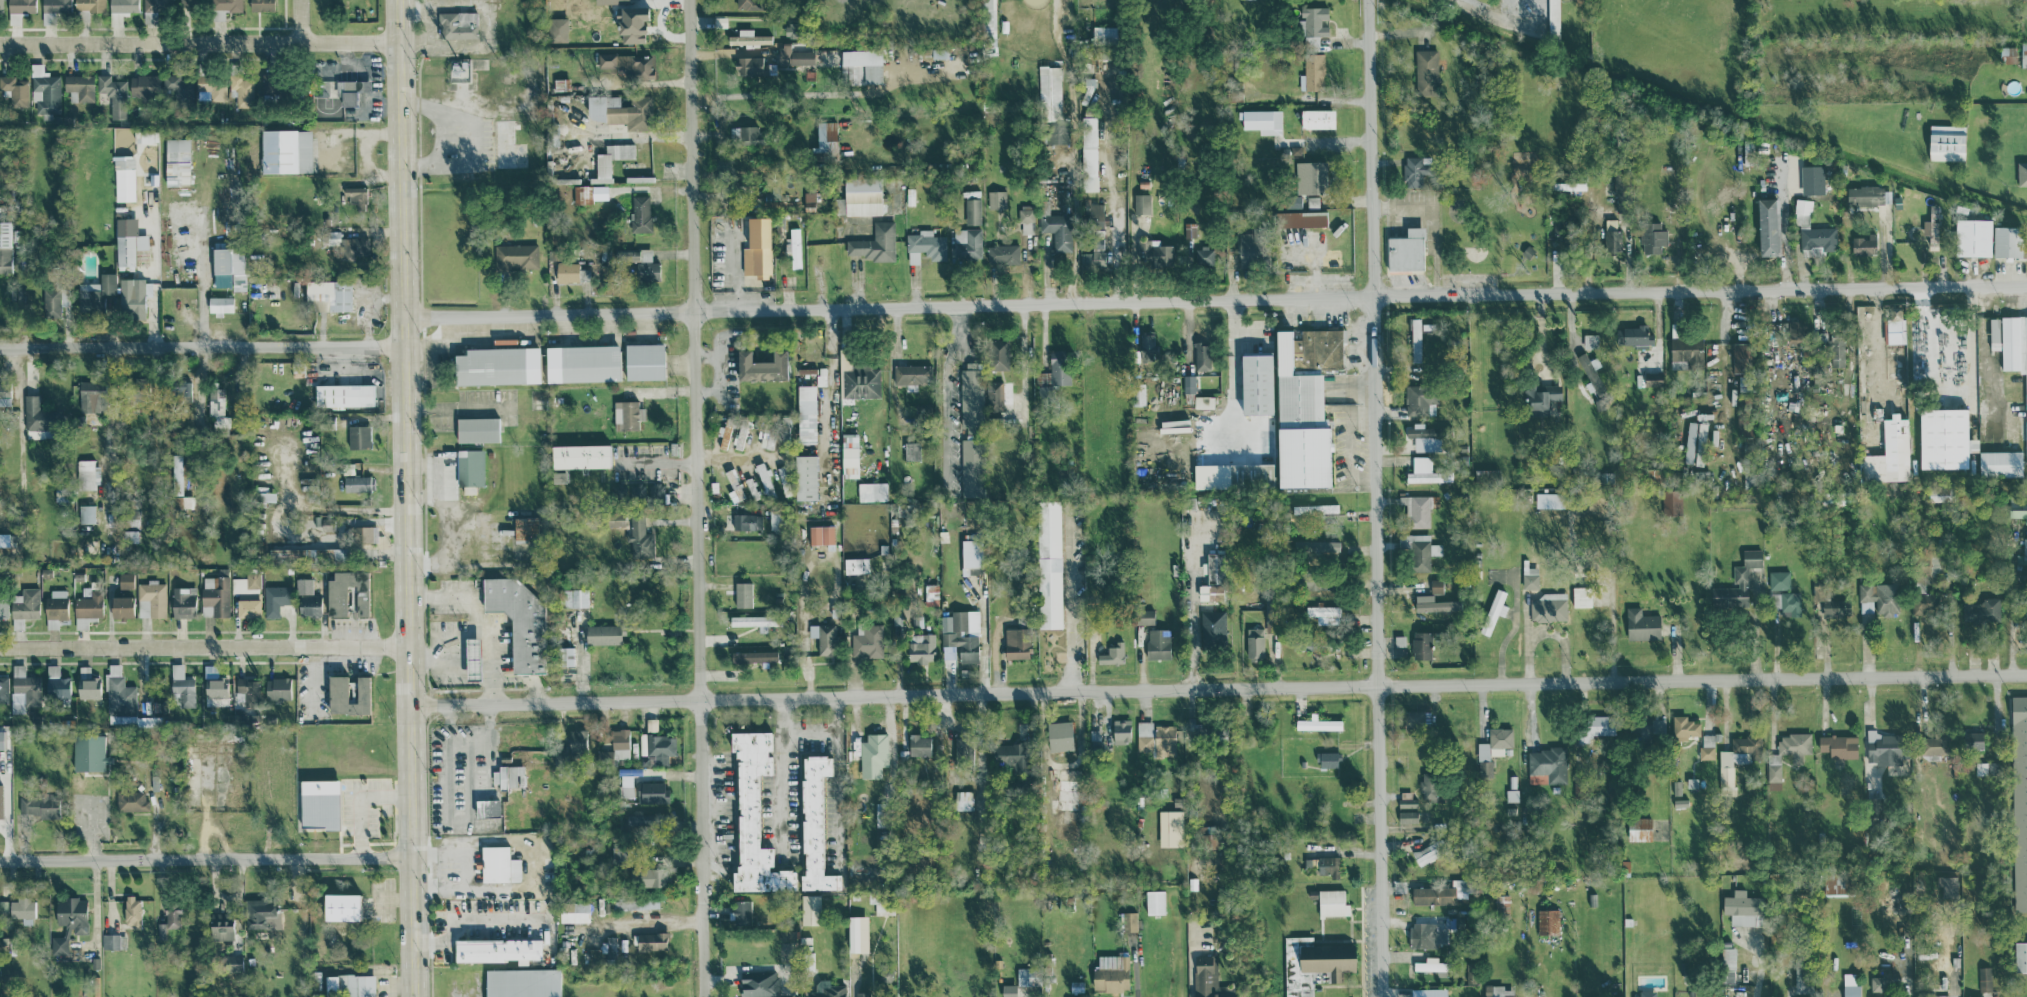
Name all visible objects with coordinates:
building: (610, 1)
road: (1529, 1)
building: (192, 3)
building: (0, 4)
building: (225, 4)
building: (746, 4)
building: (90, 5)
building: (124, 5)
building: (261, 5)
building: (54, 8)
building: (19, 9)
building: (155, 9)
building: (217, 14)
building: (988, 18)
road: (298, 20)
building: (1553, 21)
building: (631, 23)
building: (456, 24)
building: (1312, 25)
building: (557, 29)
building: (790, 29)
building: (1104, 33)
building: (748, 37)
road: (200, 41)
building: (2024, 49)
building: (793, 55)
building: (864, 62)
building: (628, 64)
building: (751, 66)
building: (1426, 71)
building: (852, 72)
building: (1312, 72)
building: (143, 85)
building: (178, 86)
building: (211, 86)
building: (79, 87)
building: (241, 89)
building: (16, 90)
building: (44, 90)
building: (350, 90)
building: (1049, 92)
road: (811, 94)
building: (113, 95)
river: (1716, 108)
building: (620, 111)
building: (1317, 118)
building: (1261, 120)
building: (1055, 132)
building: (746, 134)
building: (145, 136)
building: (825, 142)
building: (1947, 142)
building: (507, 145)
building: (285, 151)
building: (1089, 153)
building: (176, 161)
building: (603, 169)
building: (1413, 171)
building: (2022, 173)
building: (1811, 176)
building: (1311, 177)
building: (123, 178)
road: (1075, 181)
building: (1569, 185)
building: (589, 193)
road: (1115, 194)
building: (1865, 195)
building: (862, 196)
building: (355, 198)
building: (996, 199)
building: (809, 200)
building: (779, 201)
building: (1293, 201)
building: (1312, 202)
building: (1141, 203)
building: (1043, 206)
building: (639, 213)
building: (1093, 214)
building: (1026, 219)
building: (1300, 219)
building: (1932, 224)
building: (1768, 226)
building: (1057, 230)
building: (1652, 237)
building: (1818, 237)
building: (1975, 237)
building: (1611, 240)
building: (2007, 241)
building: (873, 243)
building: (966, 243)
building: (5, 245)
building: (1864, 245)
building: (349, 246)
building: (924, 246)
building: (1250, 246)
building: (793, 247)
building: (757, 248)
building: (128, 249)
building: (1406, 250)
building: (1153, 252)
building: (1002, 253)
building: (1093, 254)
building: (515, 256)
building: (1204, 256)
building: (229, 264)
building: (643, 264)
building: (566, 272)
building: (330, 293)
building: (112, 297)
building: (64, 298)
building: (50, 301)
road: (1215, 302)
road: (201, 303)
building: (220, 304)
building: (1895, 330)
building: (1795, 332)
building: (1995, 333)
building: (1633, 335)
building: (1416, 339)
building: (1590, 340)
road: (1879, 340)
road: (202, 345)
building: (1146, 348)
building: (1837, 349)
building: (2015, 349)
building: (1685, 350)
building: (1201, 353)
building: (998, 354)
building: (1741, 357)
road: (1023, 359)
building: (643, 361)
building: (582, 363)
building: (497, 366)
building: (761, 366)
building: (1059, 367)
building: (912, 374)
building: (1592, 375)
building: (1653, 378)
building: (861, 382)
building: (1188, 383)
building: (1256, 384)
road: (950, 389)
building: (179, 390)
road: (1233, 391)
road: (198, 392)
building: (344, 394)
road: (830, 394)
building: (1138, 394)
building: (970, 395)
building: (91, 396)
building: (994, 396)
building: (4, 397)
building: (1540, 397)
building: (1421, 399)
building: (1204, 402)
building: (1304, 405)
building: (217, 408)
road: (435, 408)
building: (806, 414)
building: (35, 415)
building: (625, 415)
building: (1743, 424)
building: (477, 429)
building: (725, 435)
building: (740, 435)
building: (358, 436)
building: (1424, 437)
building: (1945, 438)
building: (767, 439)
building: (1696, 439)
building: (911, 451)
building: (1890, 452)
building: (849, 455)
building: (580, 456)
road: (736, 456)
road: (656, 462)
building: (2000, 463)
building: (470, 467)
building: (971, 467)
building: (1426, 471)
building: (86, 474)
building: (732, 476)
building: (763, 476)
building: (1251, 476)
building: (558, 477)
building: (805, 477)
building: (356, 483)
building: (178, 484)
building: (869, 491)
building: (647, 492)
road: (406, 498)
road: (696, 498)
road: (1375, 498)
building: (1548, 500)
building: (1672, 502)
building: (2018, 506)
building: (1315, 509)
building: (1416, 510)
building: (85, 513)
building: (128, 518)
building: (614, 519)
building: (746, 521)
building: (525, 527)
building: (362, 534)
building: (821, 534)
building: (130, 536)
building: (639, 539)
building: (1317, 546)
building: (1419, 550)
building: (2025, 550)
building: (305, 554)
building: (970, 557)
building: (1049, 564)
building: (856, 565)
building: (1921, 567)
building: (1214, 568)
building: (1530, 577)
building: (125, 580)
building: (1779, 580)
building: (1313, 581)
building: (1738, 582)
building: (1436, 585)
building: (304, 586)
road: (1603, 588)
building: (1210, 592)
building: (742, 594)
building: (215, 596)
building: (1581, 596)
building: (574, 598)
building: (1879, 598)
building: (152, 599)
building: (275, 600)
building: (336, 601)
road: (1073, 601)
building: (184, 602)
road: (467, 602)
building: (25, 603)
building: (89, 603)
road: (1194, 603)
building: (1786, 603)
building: (1831, 603)
building: (56, 604)
building: (1434, 604)
building: (3, 605)
building: (309, 605)
building: (122, 607)
building: (1548, 607)
building: (248, 608)
building: (1921, 608)
building: (1494, 610)
building: (1985, 610)
building: (1322, 611)
building: (1144, 616)
building: (518, 618)
building: (753, 621)
building: (83, 622)
building: (1641, 625)
building: (1213, 628)
building: (602, 634)
building: (960, 636)
building: (823, 638)
building: (866, 640)
building: (1399, 640)
building: (1016, 643)
building: (1157, 644)
building: (1254, 644)
building: (1421, 645)
road: (204, 646)
building: (920, 648)
building: (1112, 654)
road: (472, 655)
building: (566, 656)
building: (753, 656)
building: (471, 659)
building: (55, 683)
building: (86, 684)
building: (215, 688)
building: (277, 688)
road: (1219, 688)
building: (3, 689)
building: (337, 689)
building: (23, 690)
building: (247, 691)
building: (118, 692)
building: (1416, 718)
building: (1317, 723)
building: (1646, 726)
building: (1594, 727)
building: (1684, 728)
building: (1121, 731)
road: (810, 734)
building: (1059, 735)
building: (1155, 738)
building: (1972, 739)
road: (471, 741)
building: (576, 741)
building: (620, 743)
building: (919, 744)
building: (1839, 745)
building: (1933, 745)
building: (1707, 746)
building: (661, 747)
building: (963, 747)
building: (1493, 748)
building: (1885, 748)
building: (874, 749)
building: (88, 752)
building: (1786, 752)
building: (1011, 756)
building: (1327, 759)
building: (1736, 760)
building: (1548, 763)
building: (503, 776)
building: (1538, 778)
road: (782, 780)
road: (839, 783)
building: (626, 785)
building: (1429, 787)
building: (653, 792)
building: (1406, 798)
building: (0, 799)
building: (963, 799)
building: (130, 800)
building: (2020, 800)
building: (1064, 801)
building: (319, 802)
building: (39, 804)
building: (486, 806)
building: (754, 815)
building: (1407, 816)
road: (161, 817)
building: (814, 824)
building: (1170, 827)
building: (1638, 828)
building: (1425, 854)
road: (206, 859)
building: (498, 864)
building: (1325, 864)
building: (647, 876)
building: (1835, 884)
building: (1947, 884)
building: (1433, 894)
building: (1155, 901)
building: (635, 902)
building: (1332, 902)
building: (1502, 903)
building: (340, 905)
building: (3, 906)
building: (1743, 908)
building: (21, 909)
building: (810, 909)
road: (97, 910)
building: (573, 910)
building: (131, 911)
building: (741, 911)
building: (260, 913)
building: (71, 914)
road: (656, 918)
building: (168, 919)
building: (1129, 920)
building: (1548, 920)
building: (220, 926)
building: (857, 933)
building: (1423, 934)
building: (110, 940)
building: (650, 940)
building: (609, 943)
building: (58, 944)
building: (497, 949)
building: (2021, 955)
building: (232, 962)
building: (1313, 964)
building: (1727, 964)
building: (1432, 965)
road: (1759, 965)
building: (1111, 973)
building: (1208, 977)
building: (1985, 978)
building: (1801, 980)
road: (394, 982)
building: (522, 982)
building: (1023, 983)
building: (1880, 983)
building: (758, 984)
building: (350, 985)
building: (1851, 985)
road: (1137, 987)
building: (829, 990)
building: (1497, 991)
road: (807, 993)
building: (865, 993)
building: (1646, 993)
building: (1975, 996)

